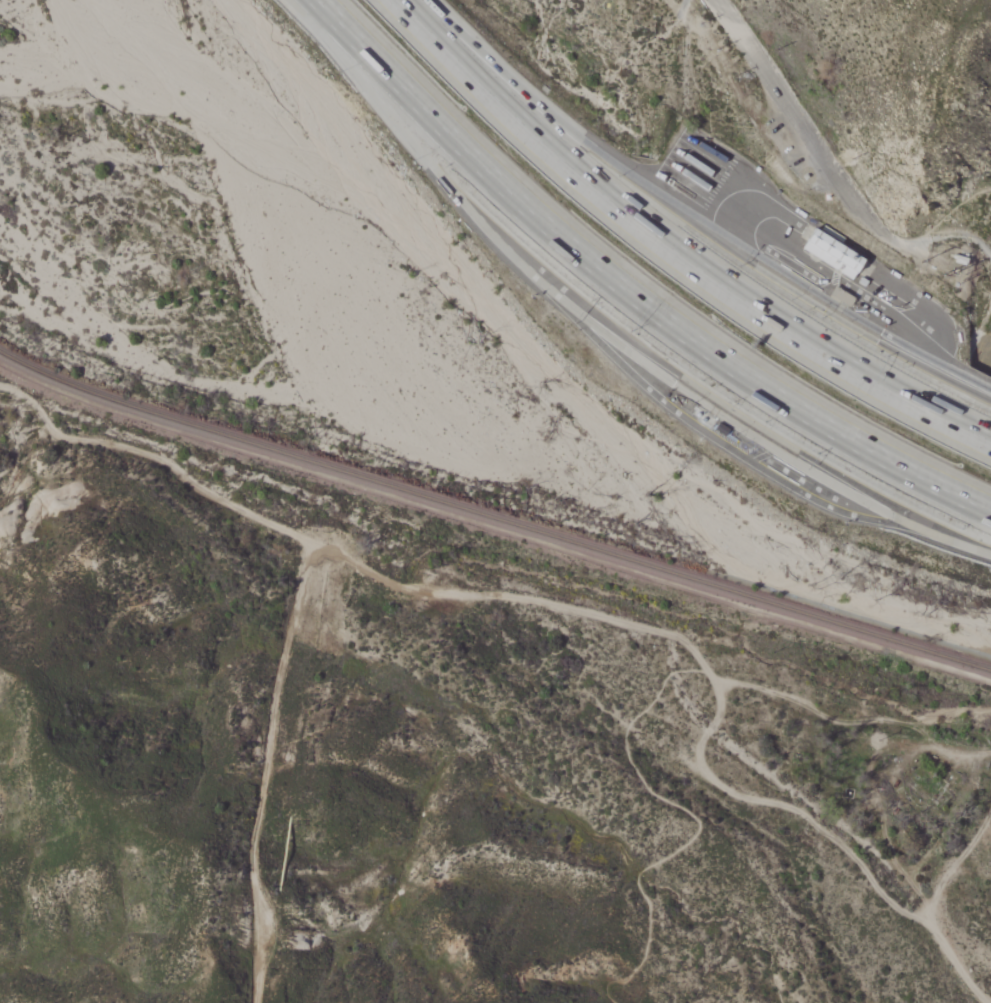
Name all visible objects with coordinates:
road: (526, 94)
road: (813, 133)
road: (422, 156)
road: (757, 207)
road: (957, 215)
road: (962, 235)
road: (838, 249)
road: (671, 252)
building: (835, 254)
railway: (646, 276)
road: (790, 278)
road: (842, 281)
road: (628, 292)
road: (920, 301)
road: (982, 338)
road: (971, 380)
road: (747, 423)
road: (730, 450)
railway: (493, 519)
road: (966, 546)
road: (345, 558)
road: (635, 711)
road: (264, 770)
road: (825, 833)
road: (884, 840)

